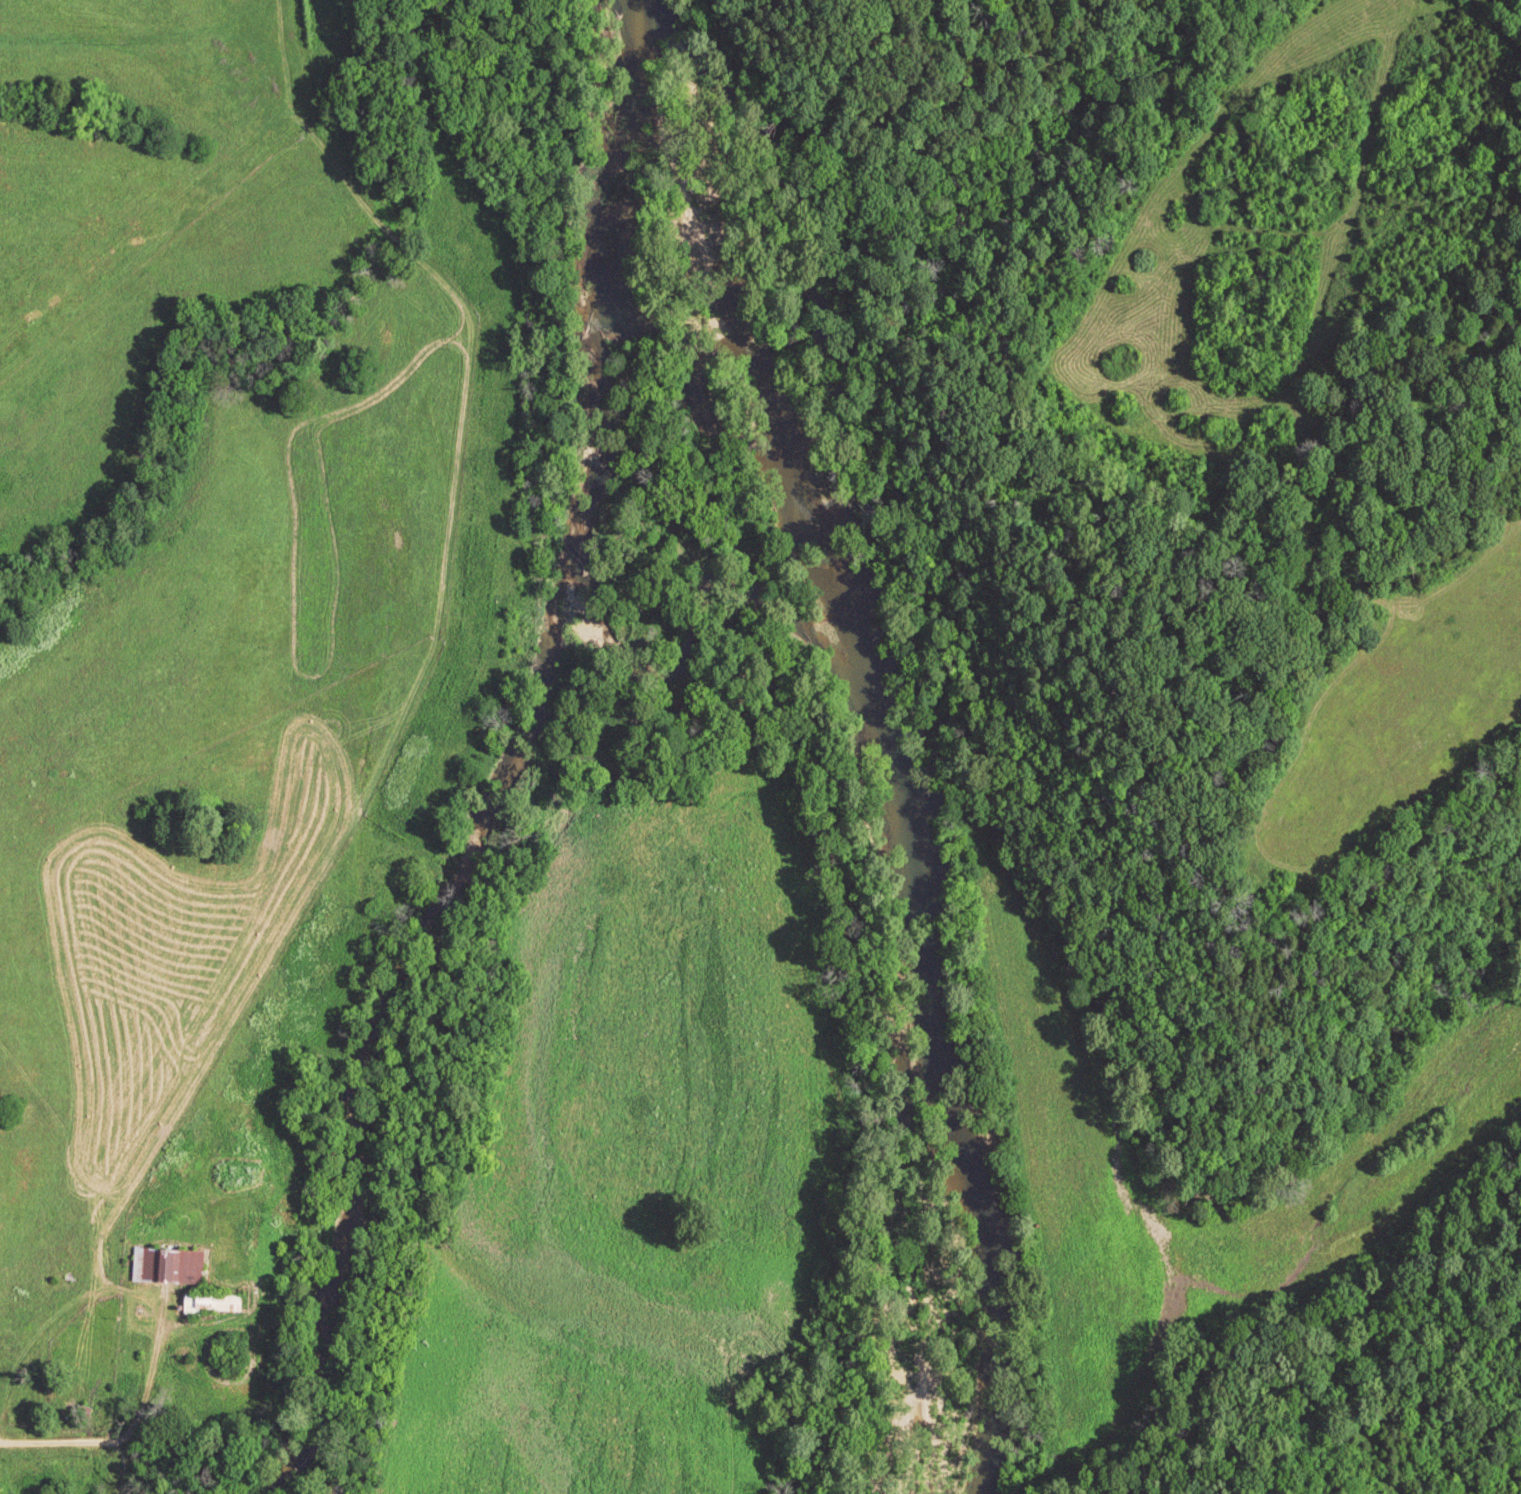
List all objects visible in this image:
river: (870, 719)
road: (146, 1300)
road: (65, 1448)

